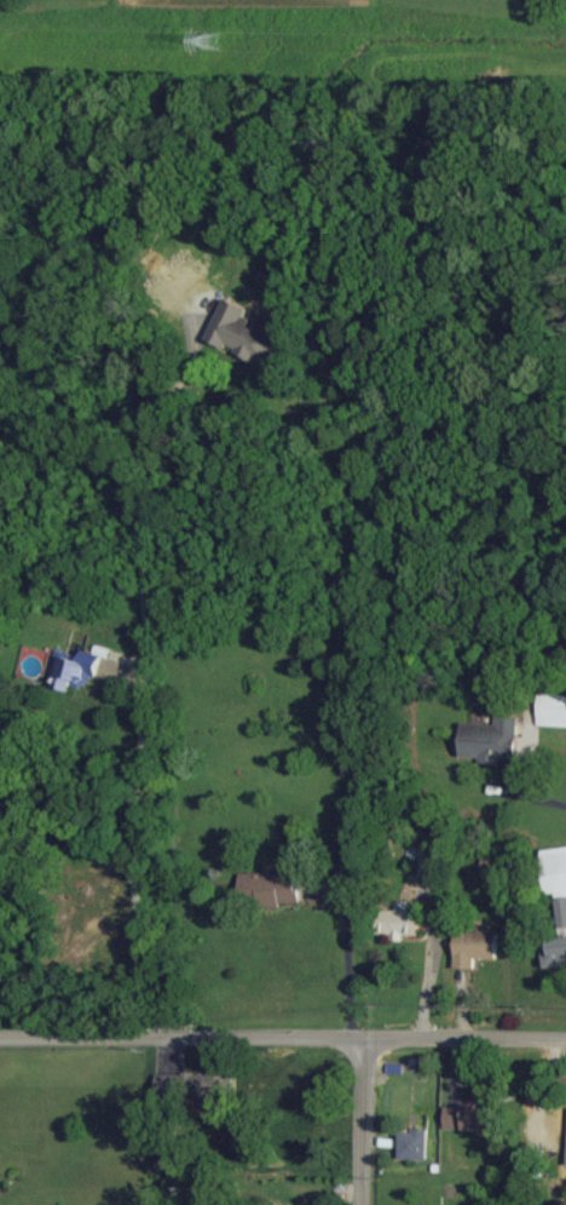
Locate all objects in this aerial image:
building: (243, 334)
building: (77, 670)
road: (145, 671)
building: (553, 707)
building: (491, 739)
road: (531, 796)
building: (429, 860)
building: (555, 868)
building: (270, 888)
building: (399, 920)
building: (556, 941)
building: (475, 946)
road: (347, 963)
road: (282, 1038)
building: (198, 1088)
building: (474, 1118)
road: (359, 1123)
building: (562, 1123)
building: (415, 1143)

